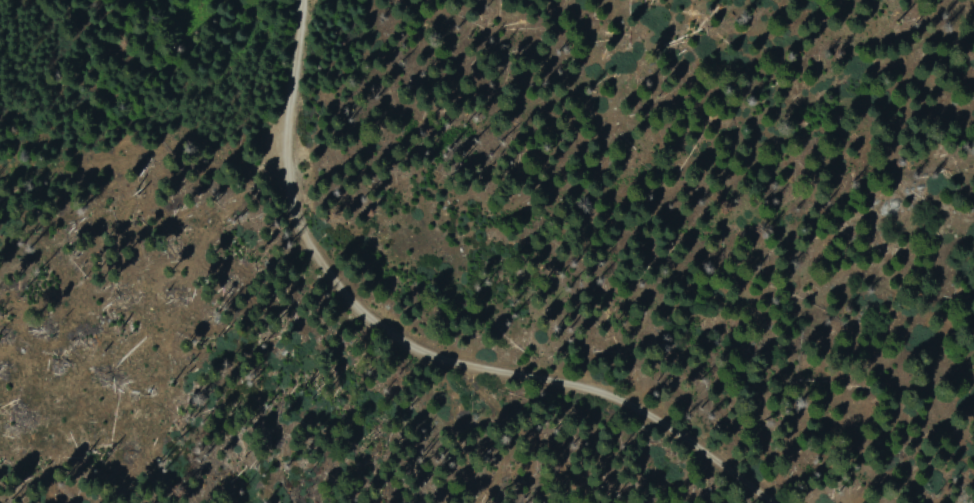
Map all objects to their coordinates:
road: (412, 342)

